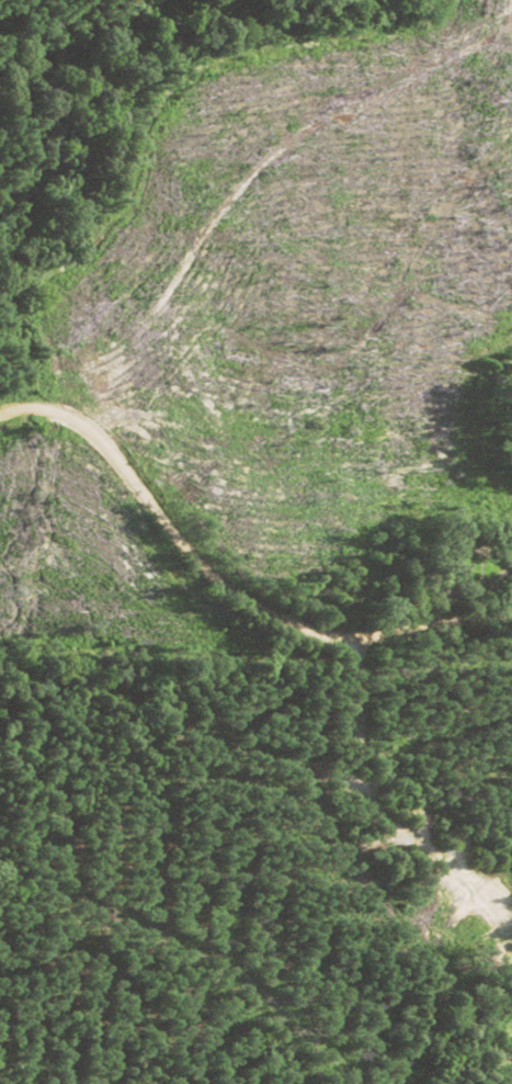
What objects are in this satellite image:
road: (230, 642)

